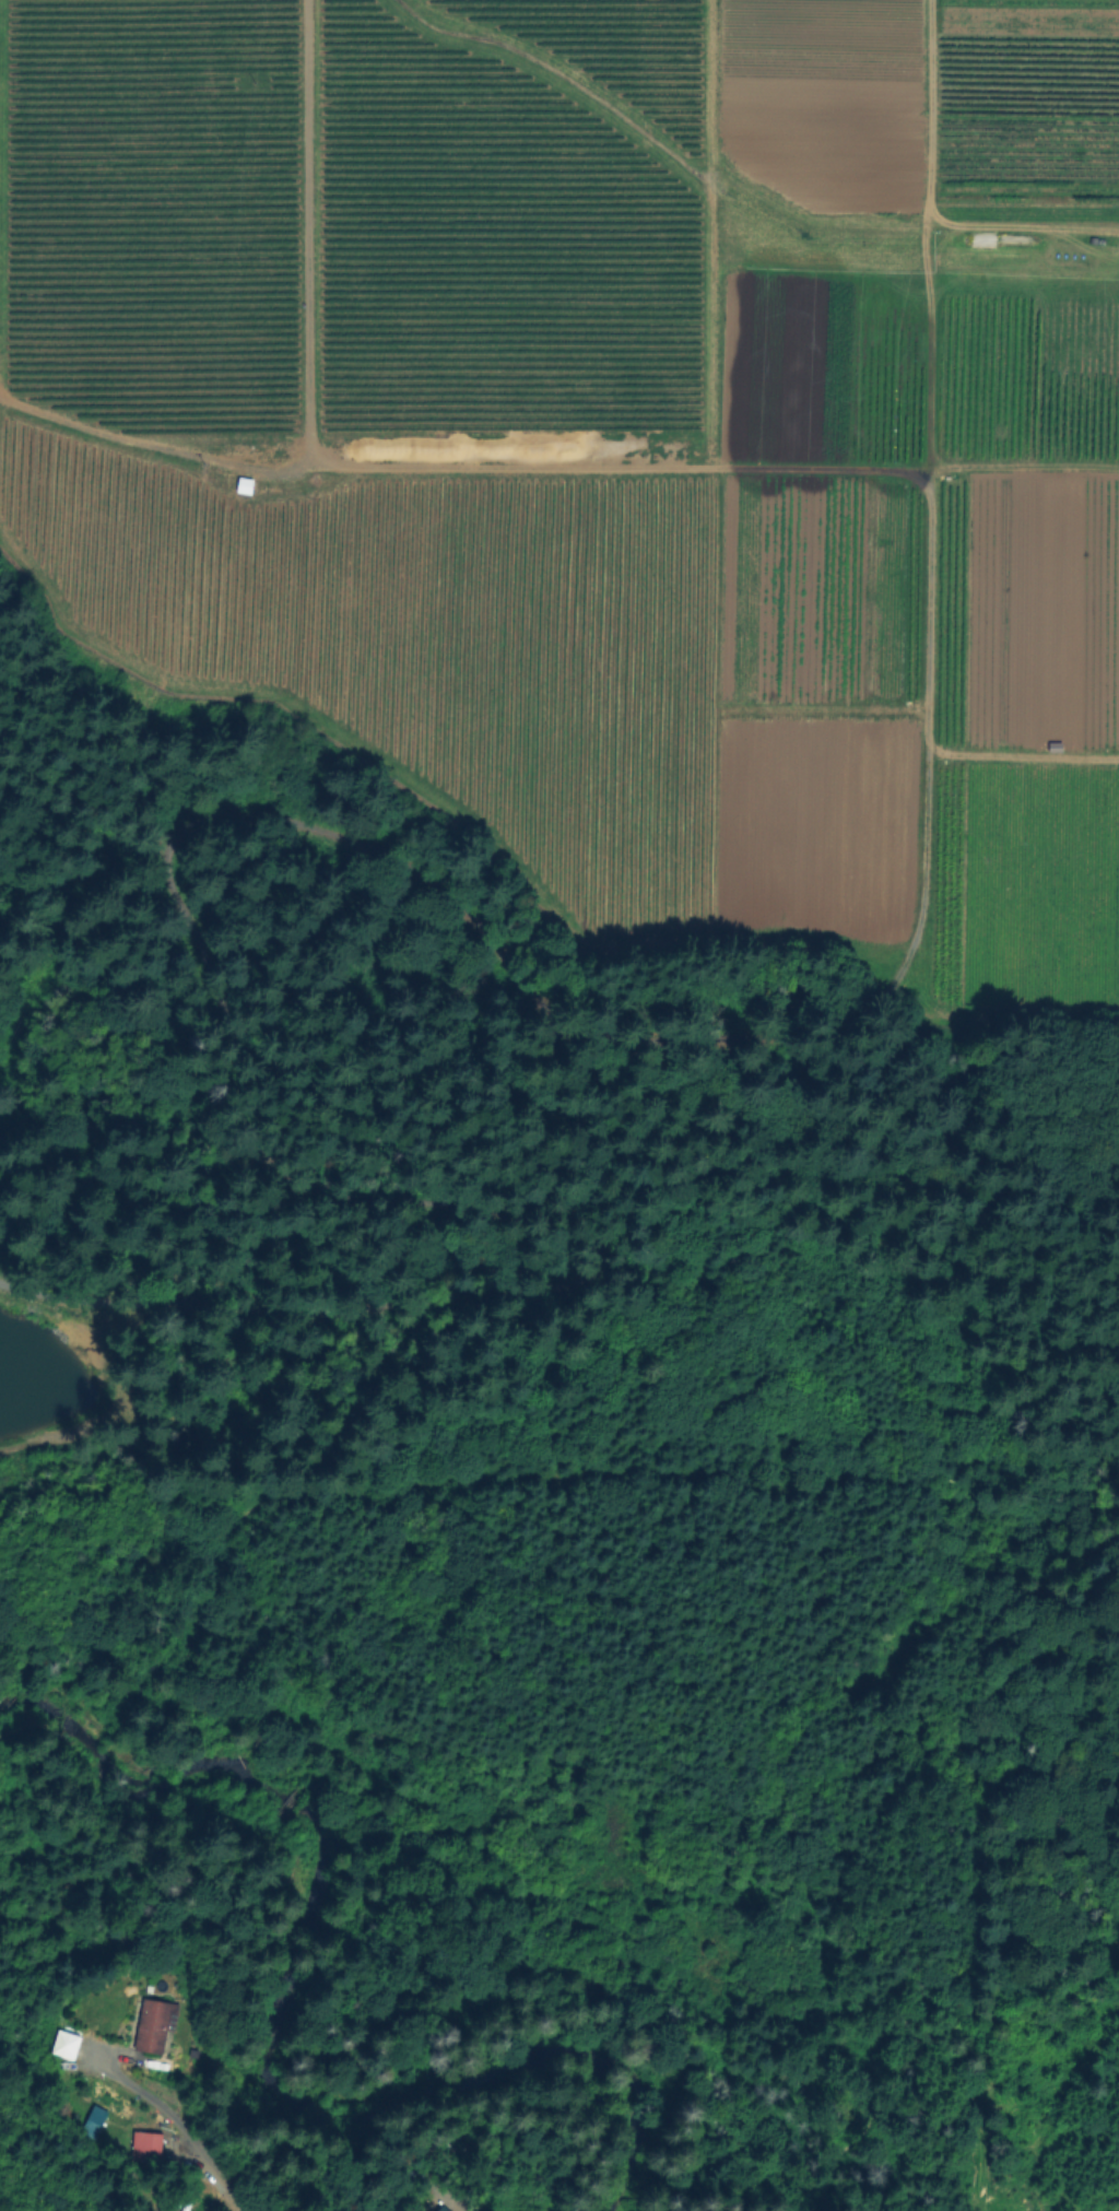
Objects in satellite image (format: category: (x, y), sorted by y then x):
building: (156, 2024)
road: (178, 2128)
building: (145, 2144)

